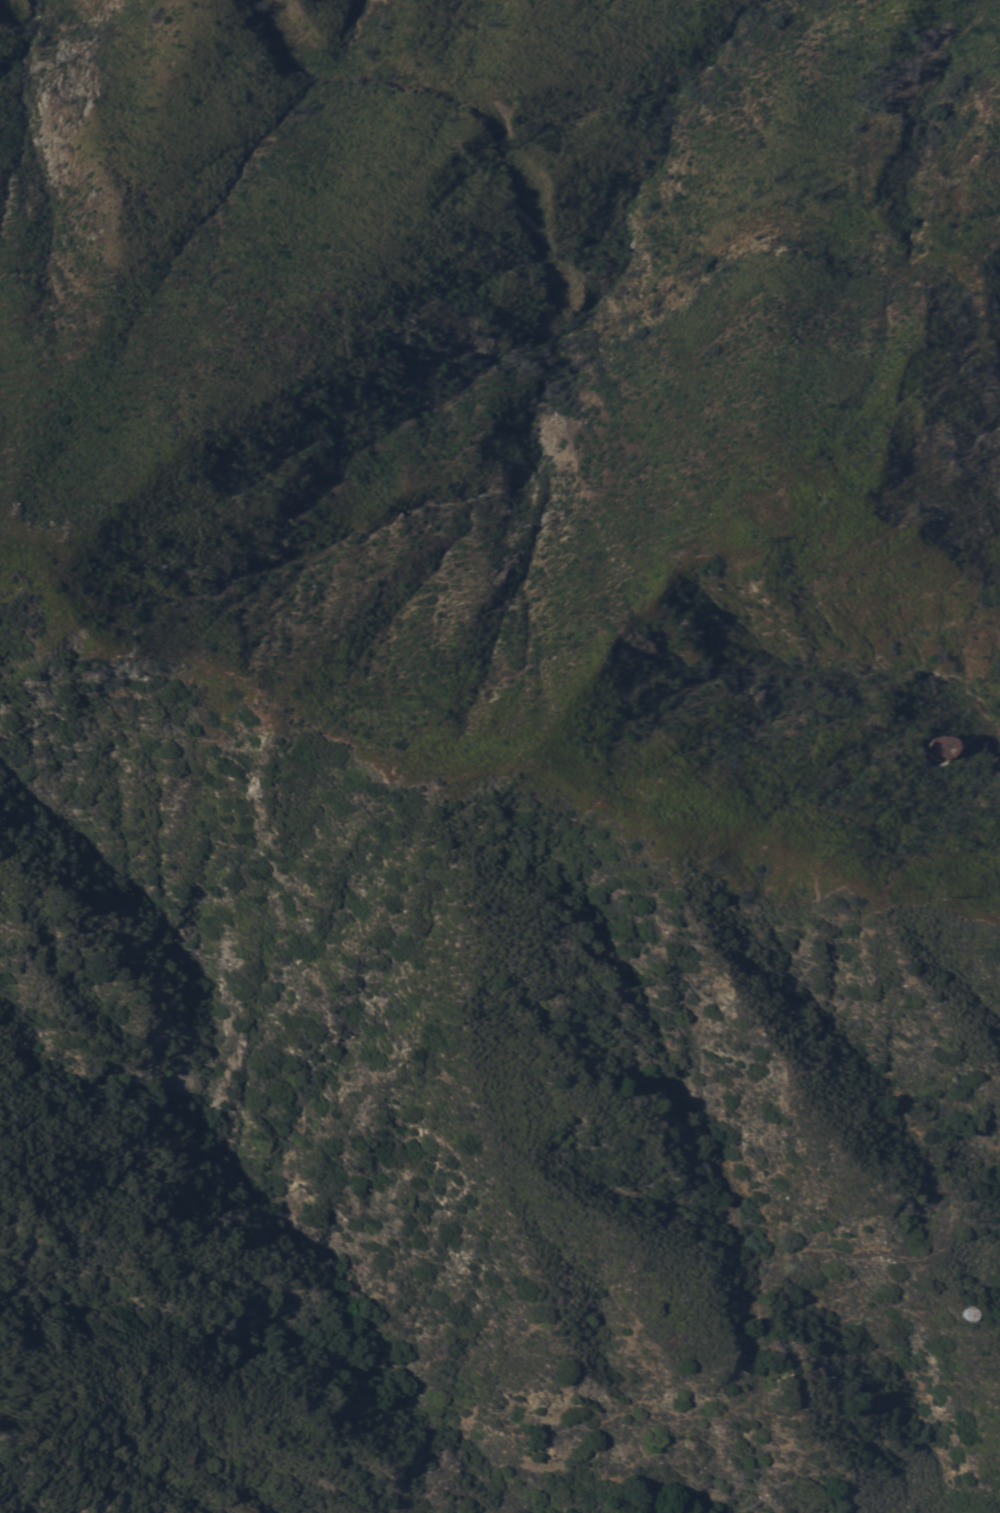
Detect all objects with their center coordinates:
building: (942, 746)
building: (968, 1312)

